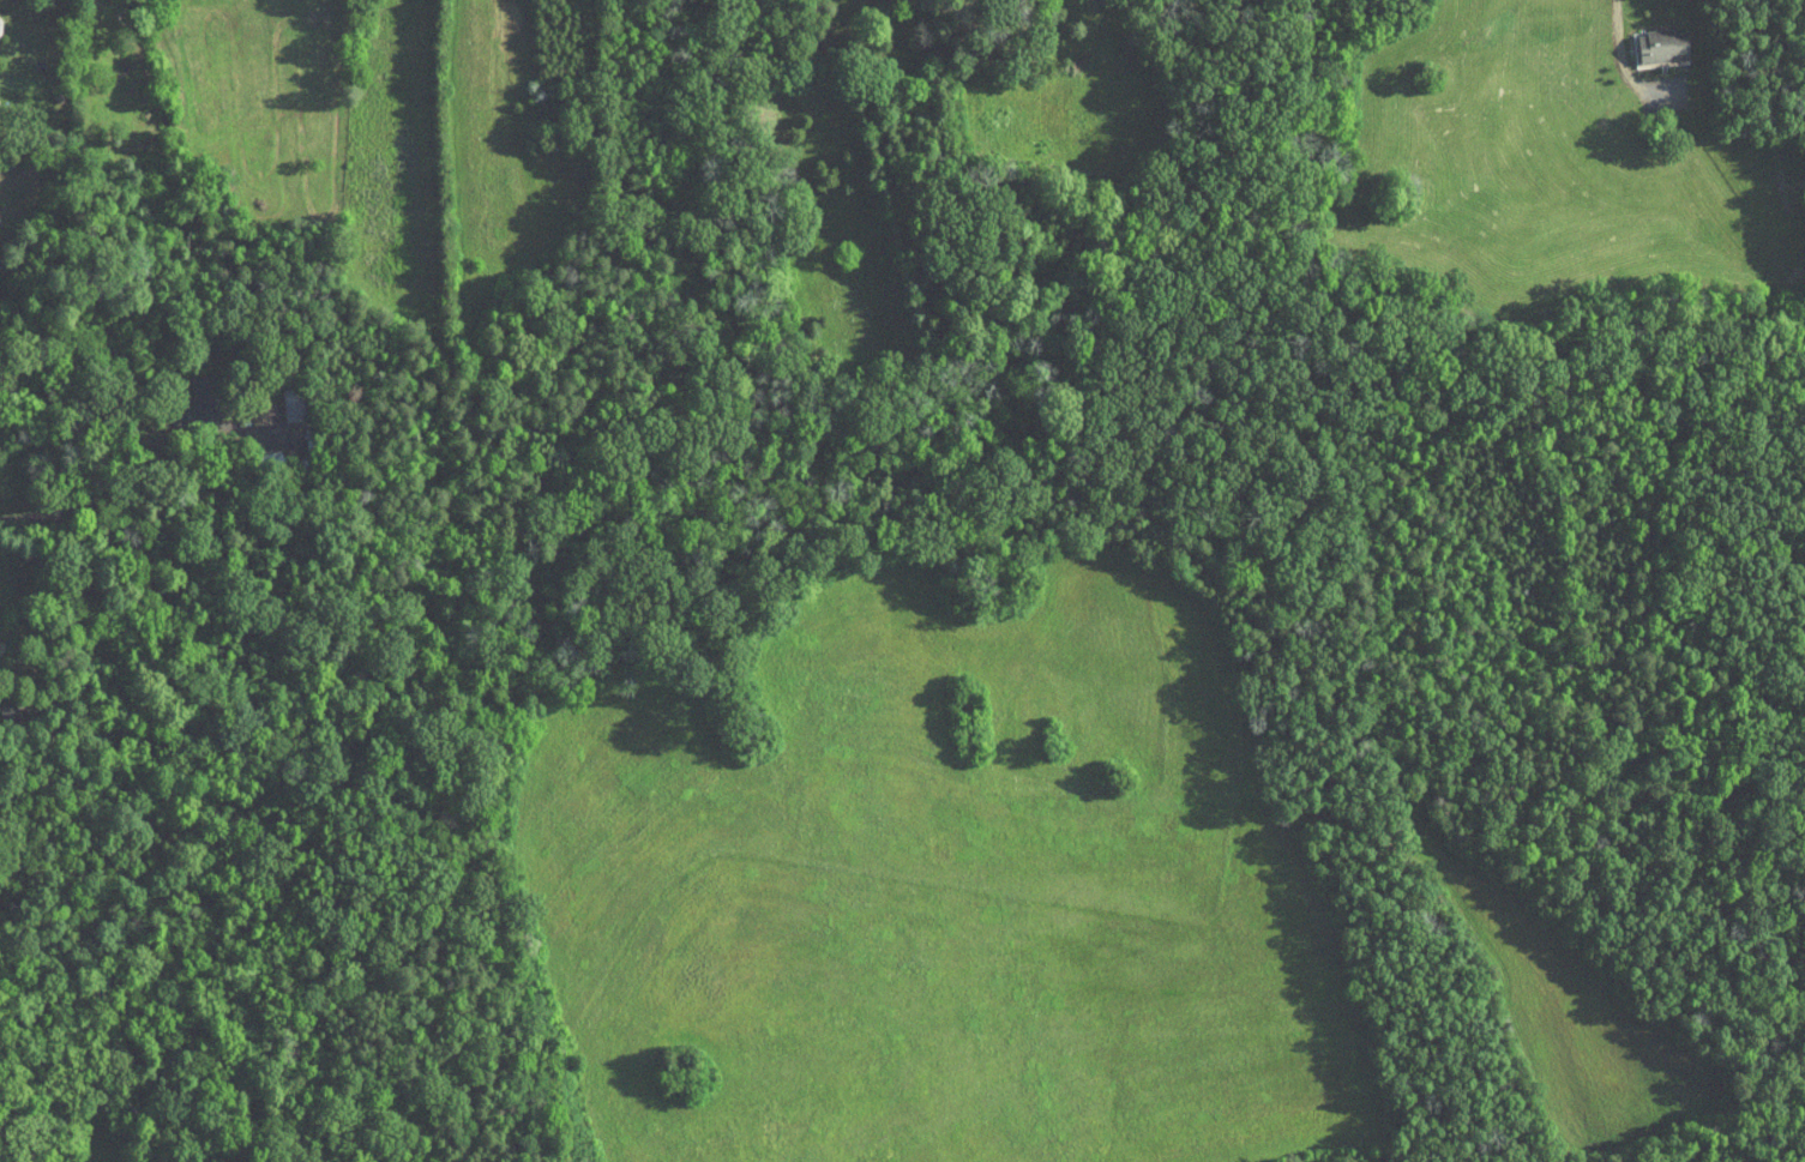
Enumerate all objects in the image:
building: (1650, 40)
road: (1610, 59)
building: (191, 391)
building: (282, 396)
road: (78, 498)

